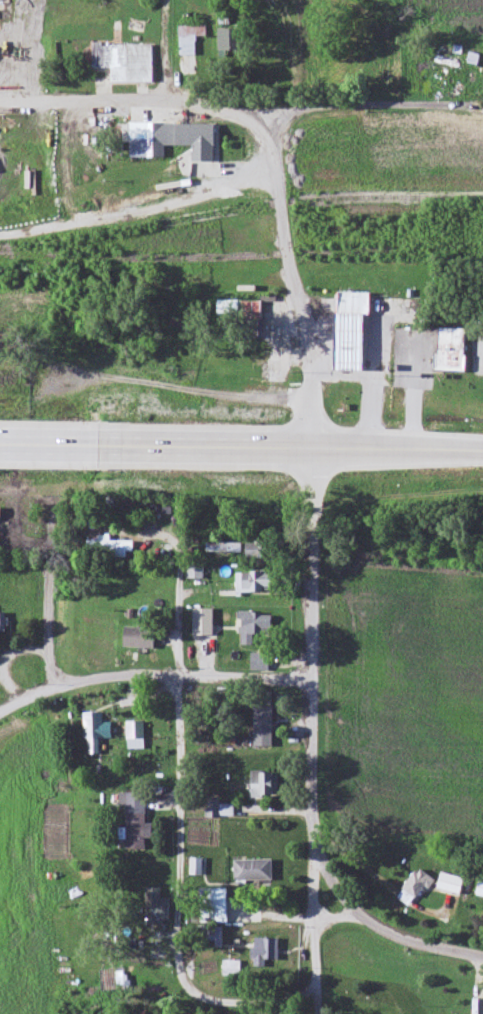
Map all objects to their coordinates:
building: (228, 41)
road: (167, 53)
building: (187, 53)
building: (68, 54)
building: (124, 63)
road: (241, 115)
building: (155, 138)
railway: (240, 210)
railway: (241, 257)
building: (350, 304)
building: (241, 316)
building: (344, 341)
gas station: (344, 341)
building: (449, 350)
road: (50, 441)
road: (209, 444)
road: (400, 448)
road: (317, 474)
building: (378, 521)
building: (109, 548)
building: (222, 548)
building: (258, 551)
building: (194, 571)
road: (181, 582)
building: (252, 583)
road: (50, 586)
building: (201, 623)
building: (2, 624)
building: (252, 627)
building: (137, 639)
building: (257, 663)
road: (153, 677)
building: (261, 727)
building: (93, 733)
building: (134, 736)
building: (262, 786)
building: (218, 812)
road: (272, 813)
building: (134, 823)
building: (251, 871)
building: (449, 884)
building: (413, 889)
road: (180, 899)
building: (211, 906)
building: (155, 908)
road: (339, 919)
road: (379, 927)
road: (315, 929)
building: (206, 936)
building: (263, 952)
building: (230, 969)

